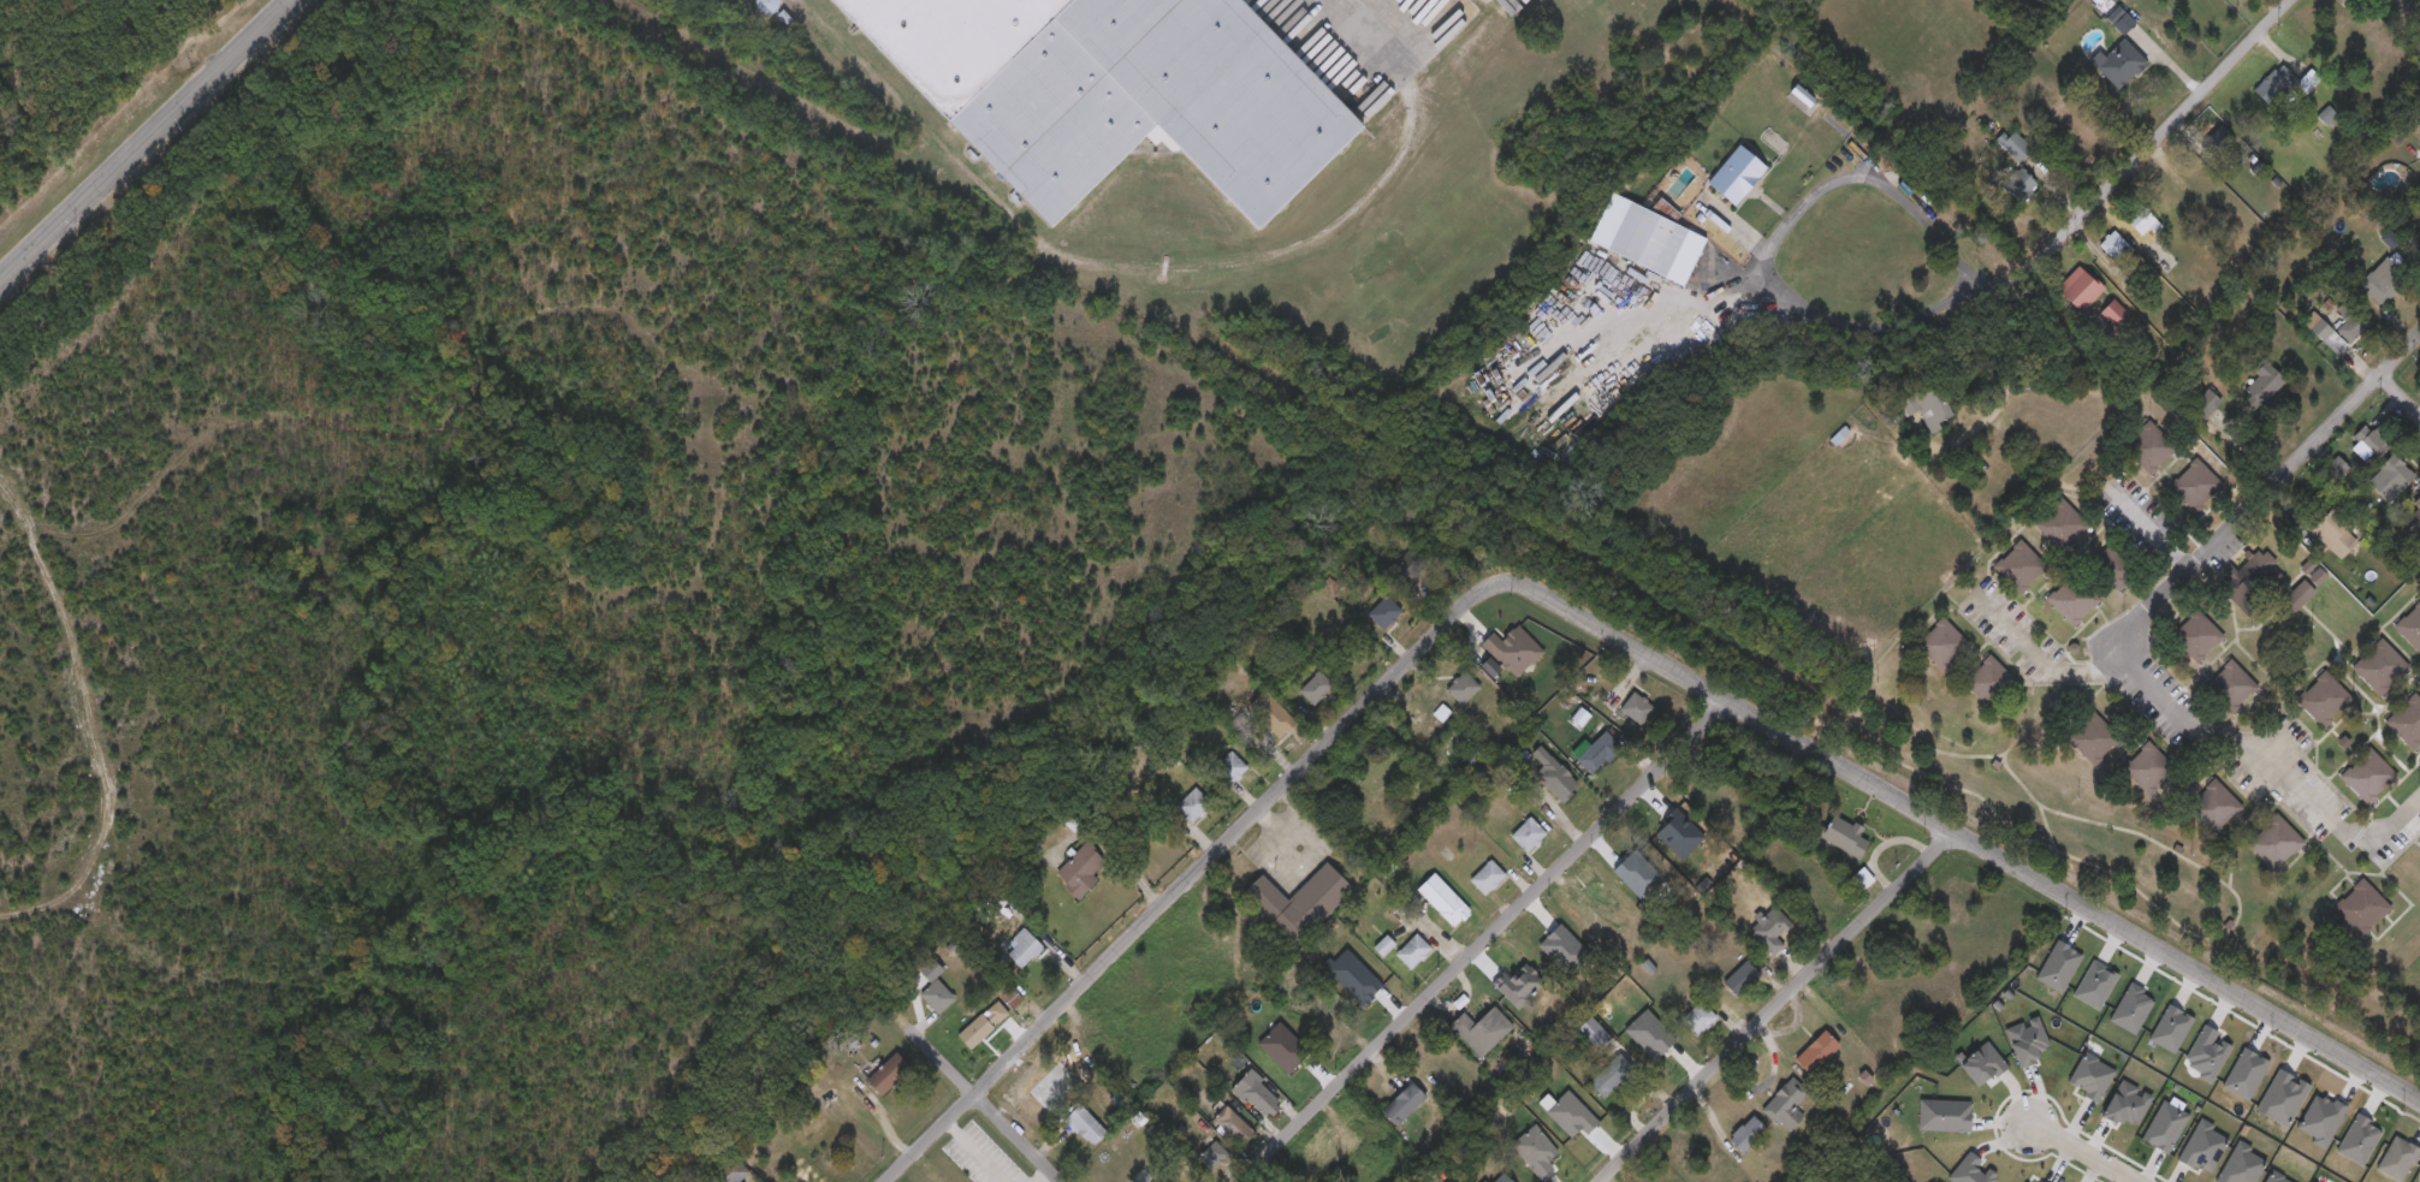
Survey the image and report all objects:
building: (764, 6)
building: (2121, 65)
building: (2277, 88)
building: (1110, 93)
building: (2331, 119)
road: (2160, 133)
road: (142, 137)
building: (2211, 137)
building: (2016, 147)
building: (1736, 177)
building: (2021, 186)
building: (2171, 201)
road: (1785, 219)
building: (2140, 221)
building: (2419, 232)
building: (1647, 239)
building: (2118, 250)
building: (2388, 279)
building: (2080, 291)
building: (2114, 314)
building: (2351, 322)
building: (2325, 335)
road: (2010, 370)
building: (2267, 381)
road: (2400, 394)
building: (2206, 405)
building: (1930, 408)
building: (2371, 442)
building: (2149, 447)
road: (2309, 449)
building: (2391, 480)
building: (2197, 485)
building: (2416, 504)
building: (2063, 528)
building: (2415, 528)
road: (2149, 529)
building: (2335, 536)
building: (1412, 566)
building: (2021, 568)
building: (2116, 570)
building: (2253, 582)
building: (2299, 596)
building: (2074, 600)
road: (2148, 612)
building: (1384, 613)
building: (2410, 628)
building: (2197, 637)
building: (1944, 646)
building: (2380, 669)
building: (1992, 684)
building: (1316, 689)
building: (2229, 689)
building: (1464, 690)
building: (2324, 701)
building: (1633, 714)
building: (1273, 715)
building: (2407, 723)
road: (2194, 730)
building: (2094, 740)
building: (1598, 754)
building: (1230, 771)
building: (2149, 771)
building: (1554, 777)
building: (2368, 778)
building: (1194, 806)
building: (2214, 807)
road: (1950, 828)
building: (1529, 836)
building: (1845, 838)
building: (2276, 844)
building: (1080, 872)
building: (1488, 879)
road: (1178, 887)
building: (1443, 902)
building: (1299, 904)
building: (2361, 909)
building: (1770, 929)
road: (1479, 940)
building: (1024, 951)
building: (1413, 952)
building: (1743, 976)
building: (937, 997)
road: (1775, 1005)
building: (1700, 1020)
building: (984, 1024)
building: (1483, 1030)
building: (1817, 1053)
building: (889, 1075)
building: (1612, 1077)
building: (1257, 1094)
road: (980, 1101)
building: (1404, 1105)
building: (1787, 1105)
building: (1086, 1125)
building: (1233, 1127)
building: (1746, 1134)
building: (818, 1136)
road: (2080, 1153)
building: (1214, 1157)
building: (2398, 1159)
building: (730, 1172)

